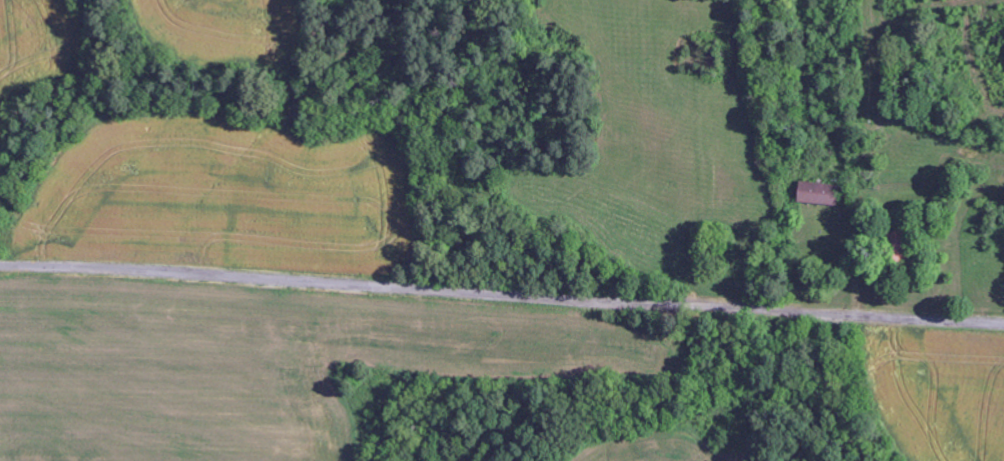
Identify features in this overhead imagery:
building: (819, 194)
road: (501, 295)

